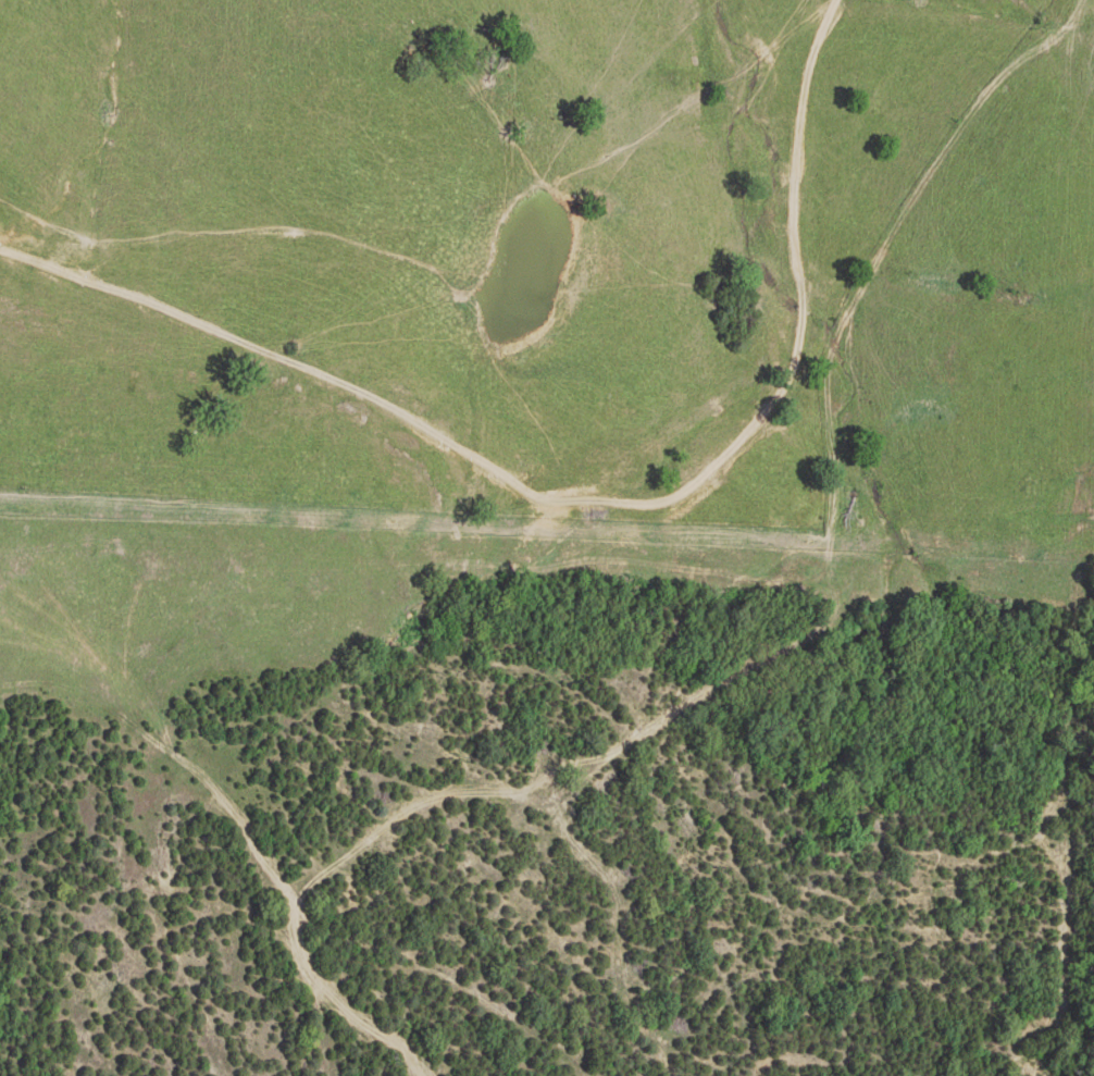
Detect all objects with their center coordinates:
road: (586, 491)

